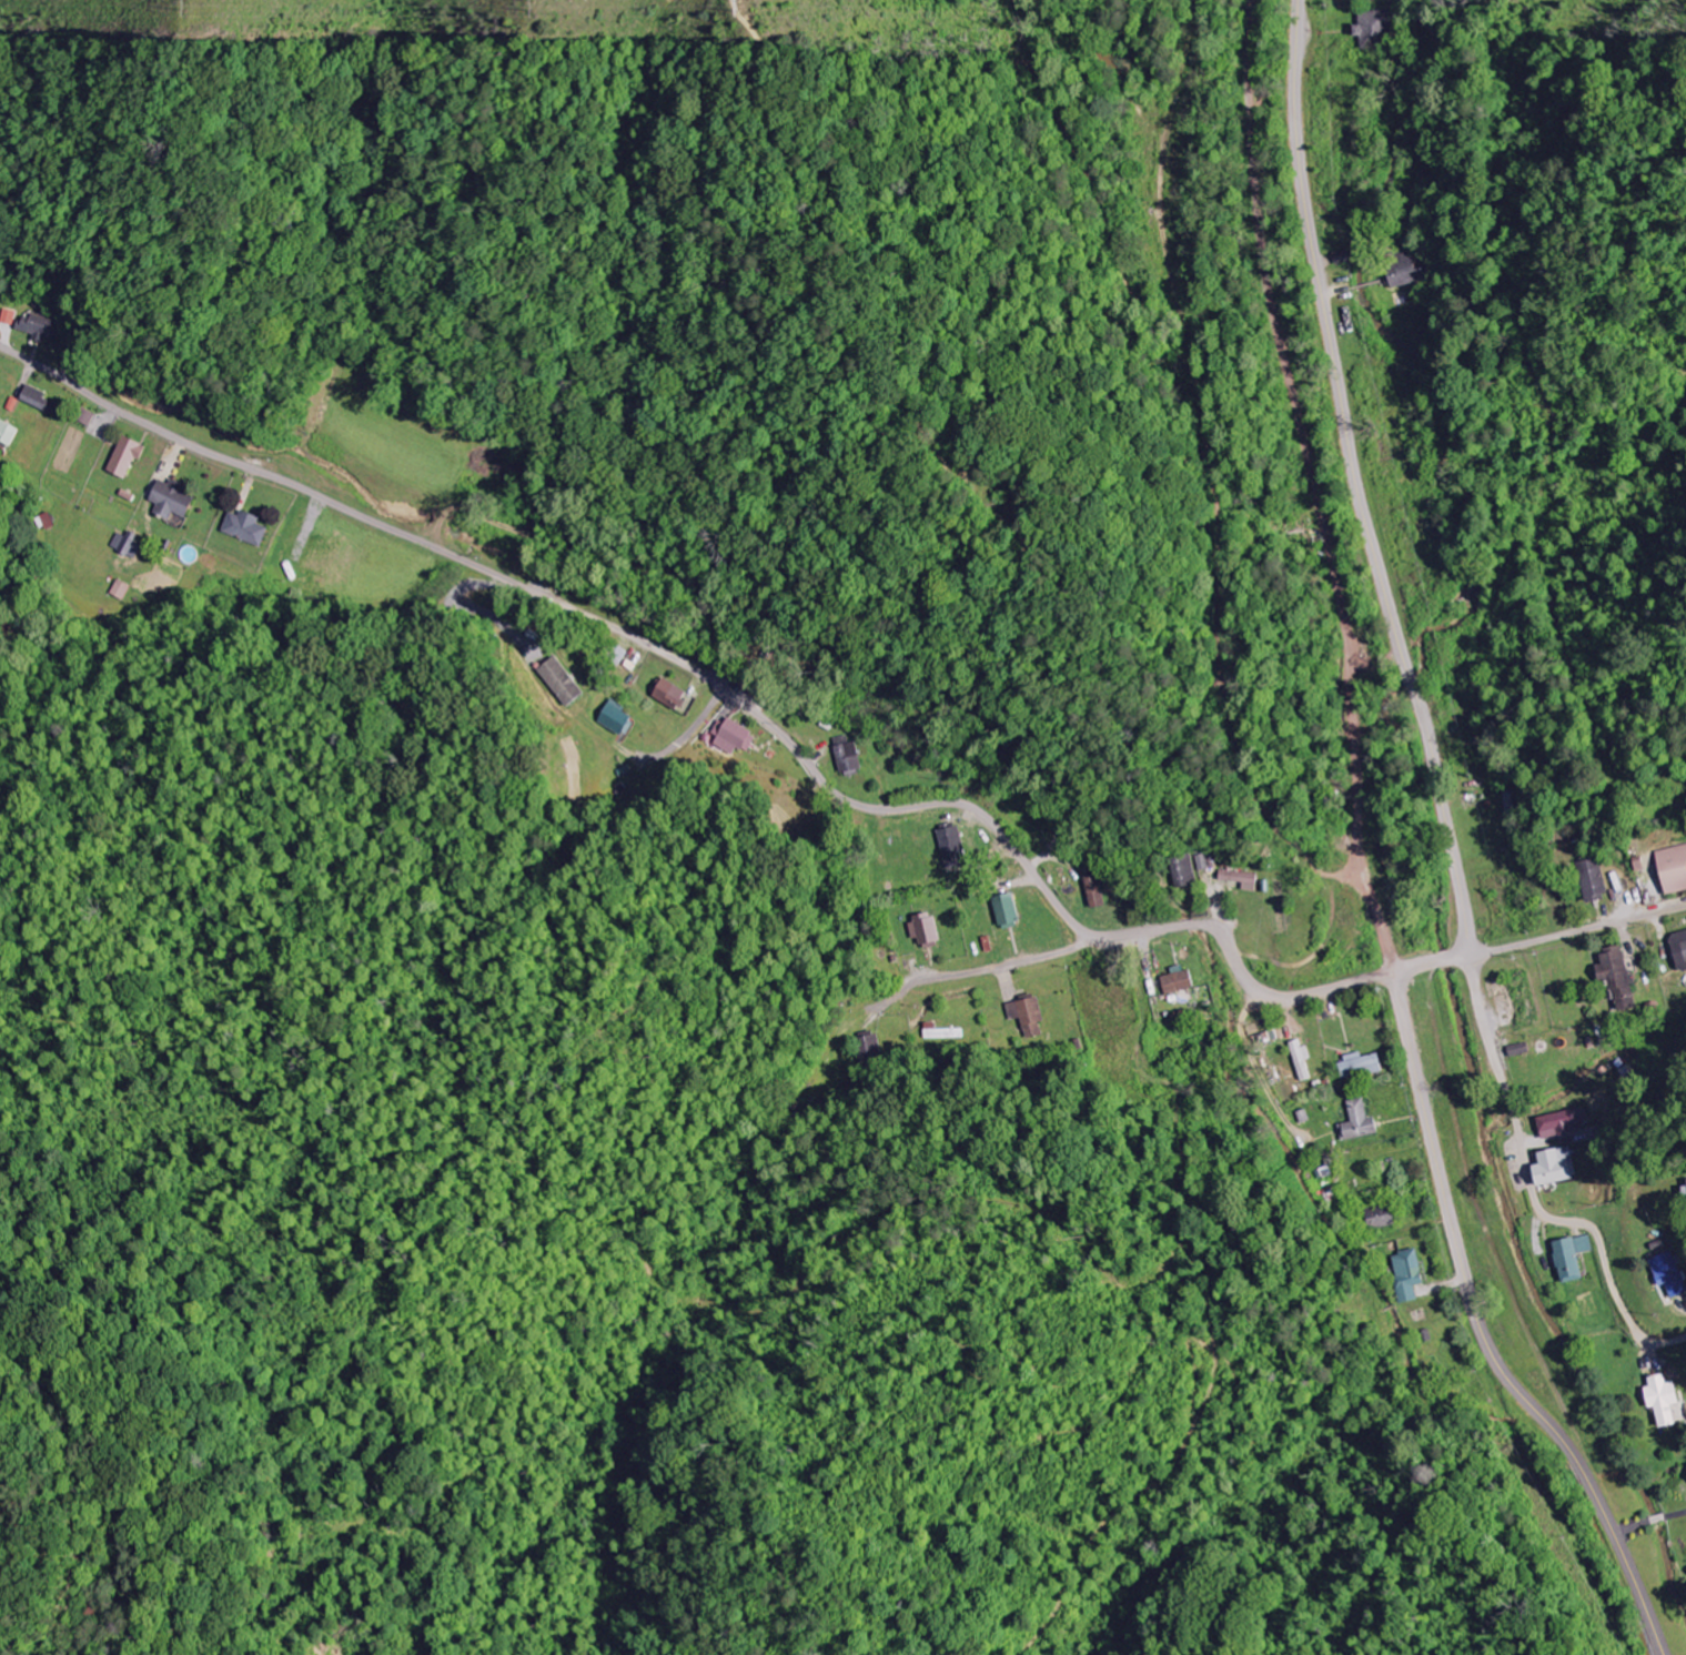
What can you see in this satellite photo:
building: (1377, 29)
building: (1412, 272)
building: (10, 316)
building: (41, 327)
building: (43, 402)
building: (88, 417)
building: (7, 433)
building: (129, 456)
road: (1359, 482)
building: (174, 499)
building: (248, 528)
building: (128, 545)
building: (119, 589)
road: (619, 634)
road: (1606, 643)
building: (561, 682)
building: (670, 695)
building: (615, 717)
building: (731, 738)
building: (849, 756)
building: (953, 848)
building: (1674, 869)
building: (1184, 874)
building: (1243, 880)
building: (1595, 880)
building: (1096, 889)
building: (1008, 910)
road: (1209, 927)
building: (927, 930)
road: (1581, 931)
building: (1680, 949)
road: (1437, 963)
road: (997, 968)
building: (1619, 978)
building: (1181, 982)
road: (1299, 997)
building: (1028, 1016)
building: (869, 1053)
building: (1303, 1060)
building: (1363, 1064)
building: (1361, 1122)
building: (1563, 1123)
building: (1556, 1168)
road: (1534, 1191)
building: (1382, 1217)
building: (1573, 1258)
building: (1672, 1273)
building: (1410, 1275)
road: (1484, 1333)
building: (1665, 1400)

